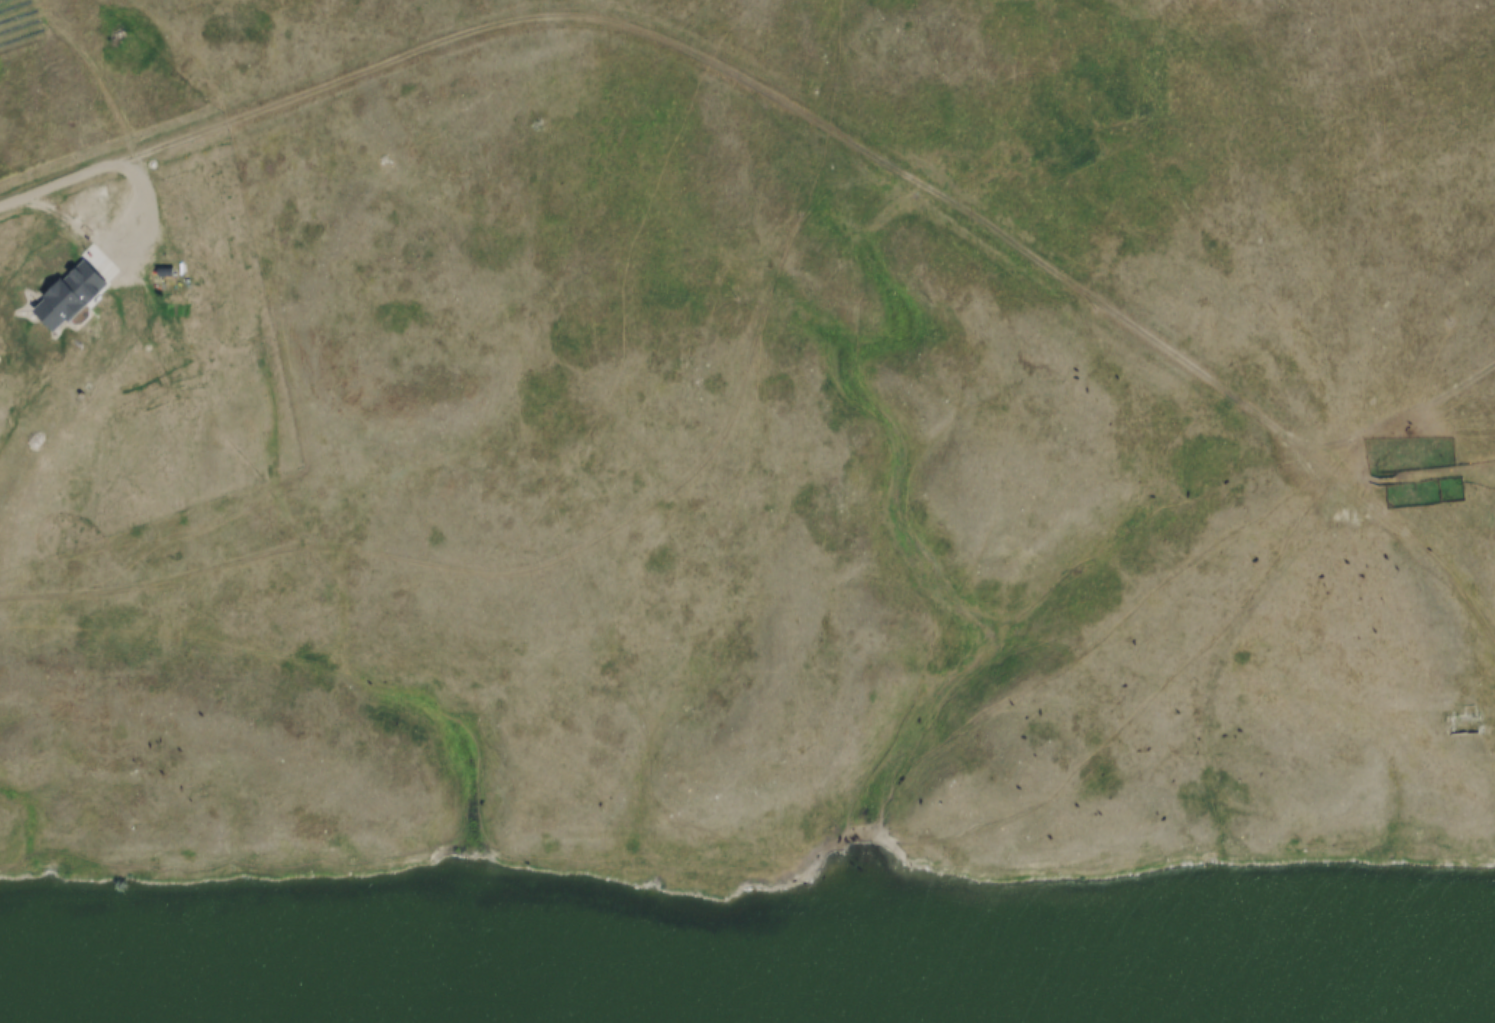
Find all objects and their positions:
road: (810, 114)
road: (1422, 424)

